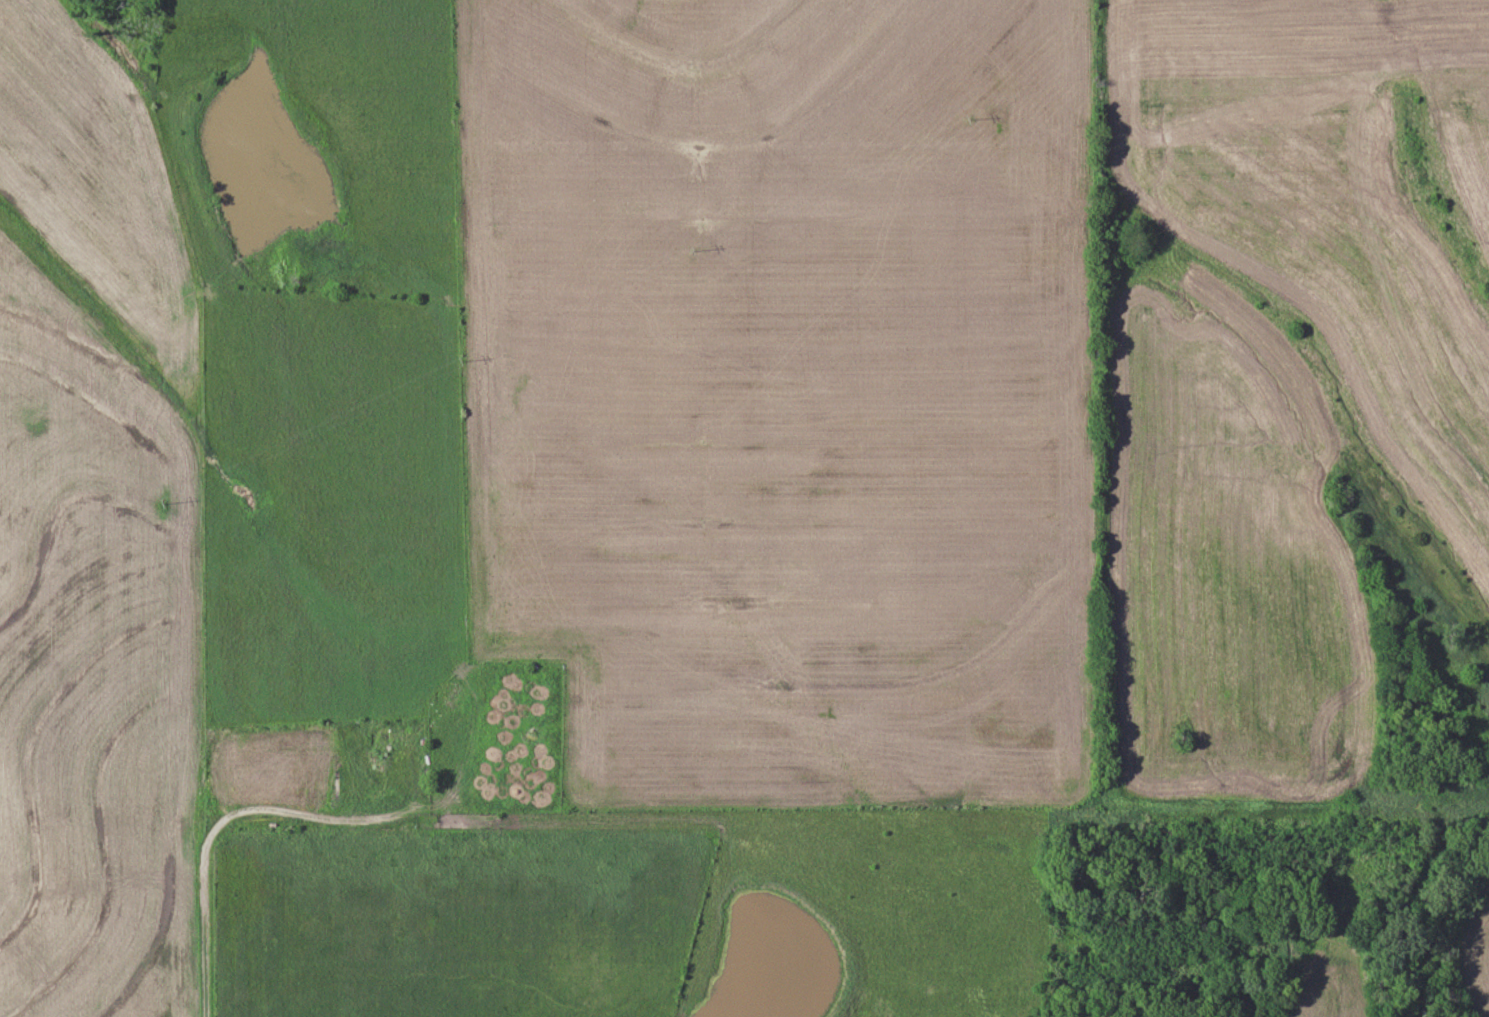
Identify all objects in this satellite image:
road: (237, 812)

